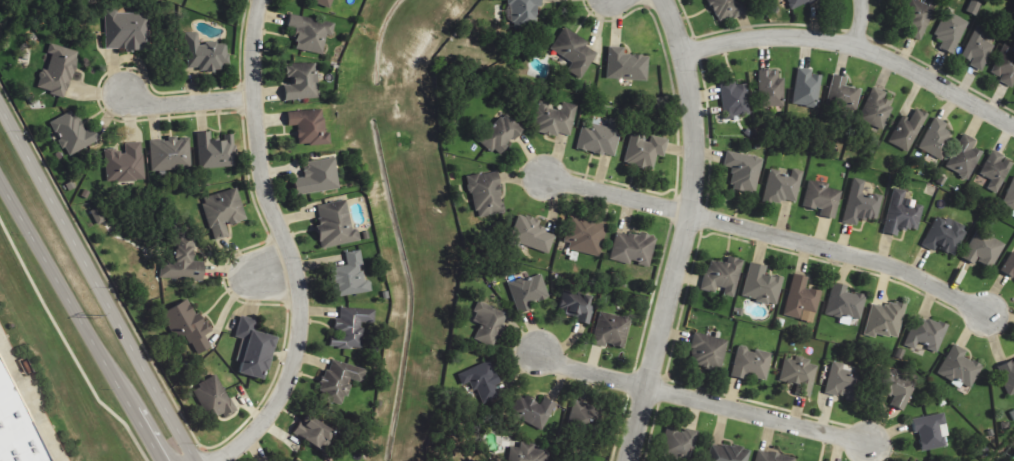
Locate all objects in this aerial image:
building: (205, 0)
building: (322, 2)
building: (797, 3)
building: (724, 9)
building: (521, 12)
road: (684, 18)
building: (917, 20)
road: (859, 22)
building: (126, 30)
building: (950, 31)
building: (308, 33)
road: (855, 45)
building: (977, 49)
building: (573, 51)
building: (204, 54)
building: (625, 65)
building: (1005, 66)
building: (58, 70)
building: (301, 81)
building: (806, 88)
building: (770, 89)
building: (842, 93)
building: (734, 99)
road: (187, 101)
building: (876, 108)
building: (555, 119)
building: (308, 126)
building: (907, 130)
building: (72, 133)
building: (499, 133)
building: (599, 138)
building: (936, 138)
building: (643, 149)
building: (216, 150)
building: (169, 153)
building: (964, 157)
building: (124, 163)
building: (996, 170)
building: (743, 171)
building: (317, 176)
building: (783, 185)
building: (485, 194)
road: (616, 195)
building: (1010, 196)
building: (821, 198)
building: (860, 202)
building: (222, 211)
building: (902, 213)
building: (334, 225)
road: (684, 231)
building: (531, 234)
building: (584, 235)
building: (944, 235)
road: (285, 246)
building: (631, 248)
building: (983, 249)
road: (841, 250)
building: (181, 259)
building: (1009, 265)
road: (276, 271)
building: (722, 275)
building: (348, 277)
building: (761, 284)
road: (96, 285)
building: (528, 291)
building: (800, 297)
building: (844, 303)
building: (576, 306)
power tower: (95, 317)
building: (885, 318)
road: (80, 322)
building: (488, 323)
building: (187, 324)
building: (610, 330)
building: (925, 333)
building: (253, 349)
building: (707, 350)
building: (750, 363)
building: (959, 367)
building: (1007, 374)
building: (799, 375)
building: (338, 380)
building: (481, 380)
building: (843, 380)
building: (896, 388)
building: (215, 398)
road: (702, 399)
building: (532, 411)
building: (584, 415)
building: (16, 428)
building: (930, 431)
building: (313, 432)
building: (678, 442)
building: (527, 453)
building: (727, 453)
building: (771, 456)
building: (471, 459)

